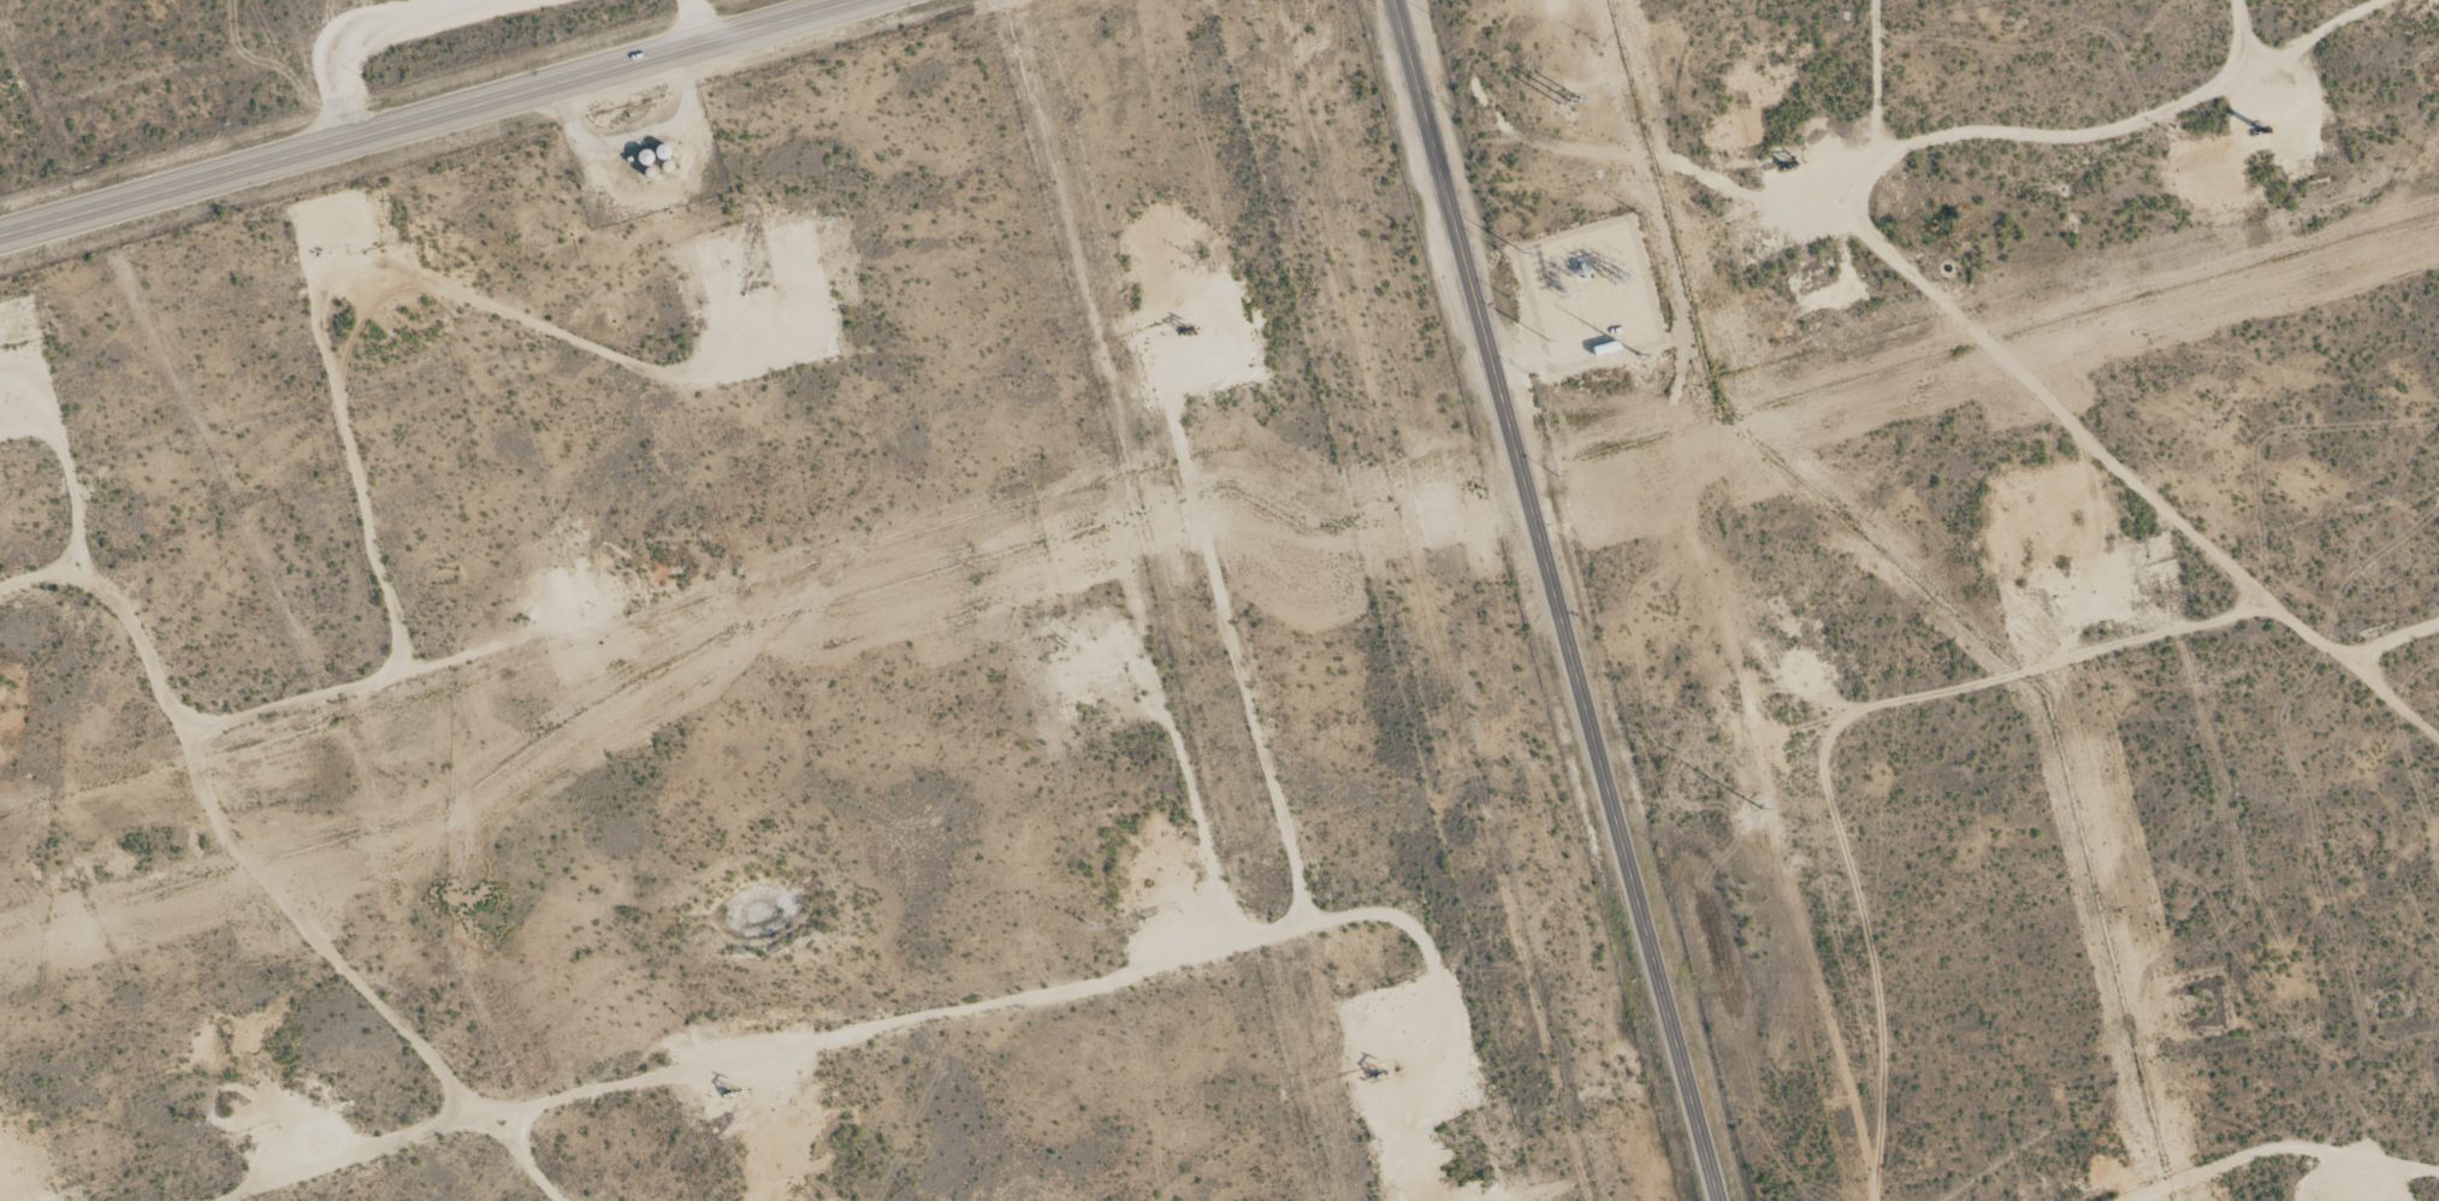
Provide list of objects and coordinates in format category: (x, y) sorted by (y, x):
road: (432, 117)
power tower: (1616, 279)
road: (1958, 284)
power substation: (1558, 301)
road: (1558, 600)
power tower: (1724, 684)
power tower: (1839, 1102)

